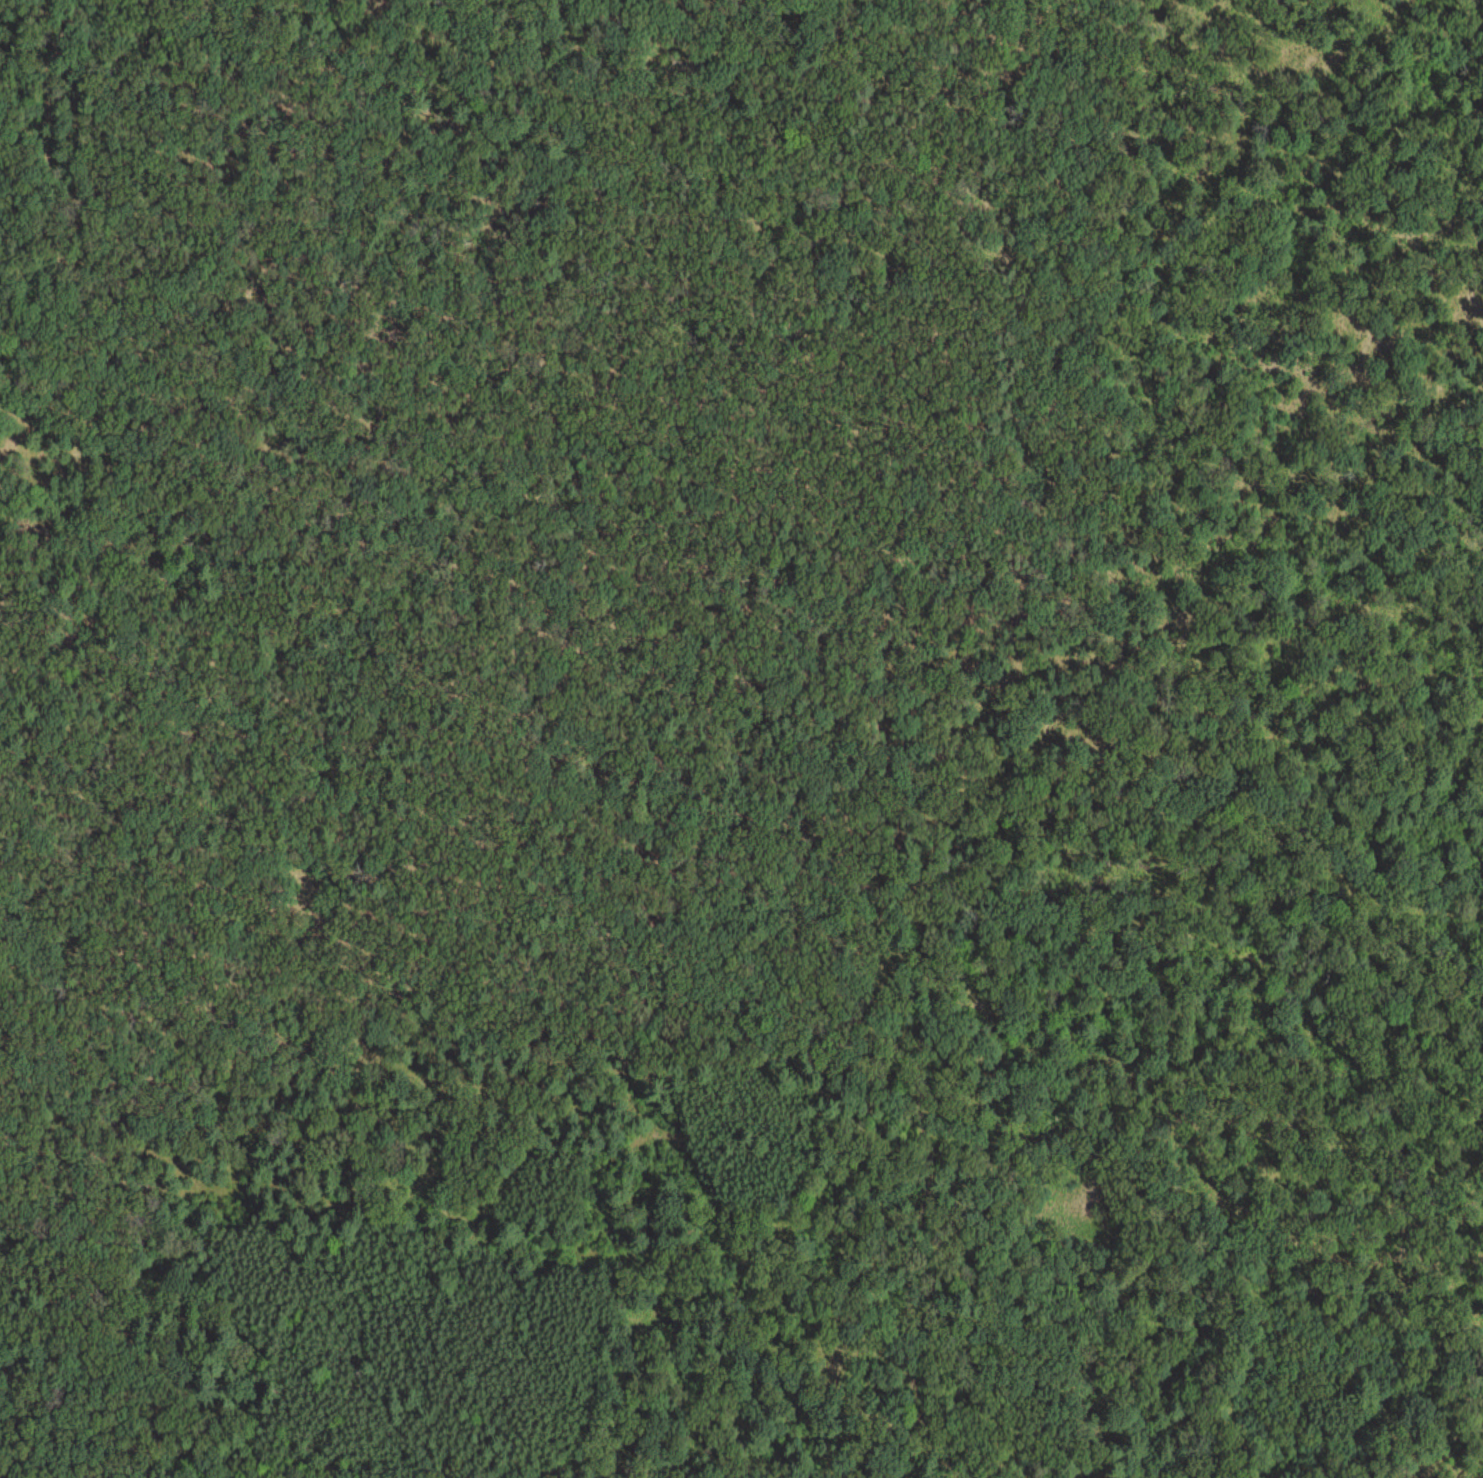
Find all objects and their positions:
road: (913, 729)

